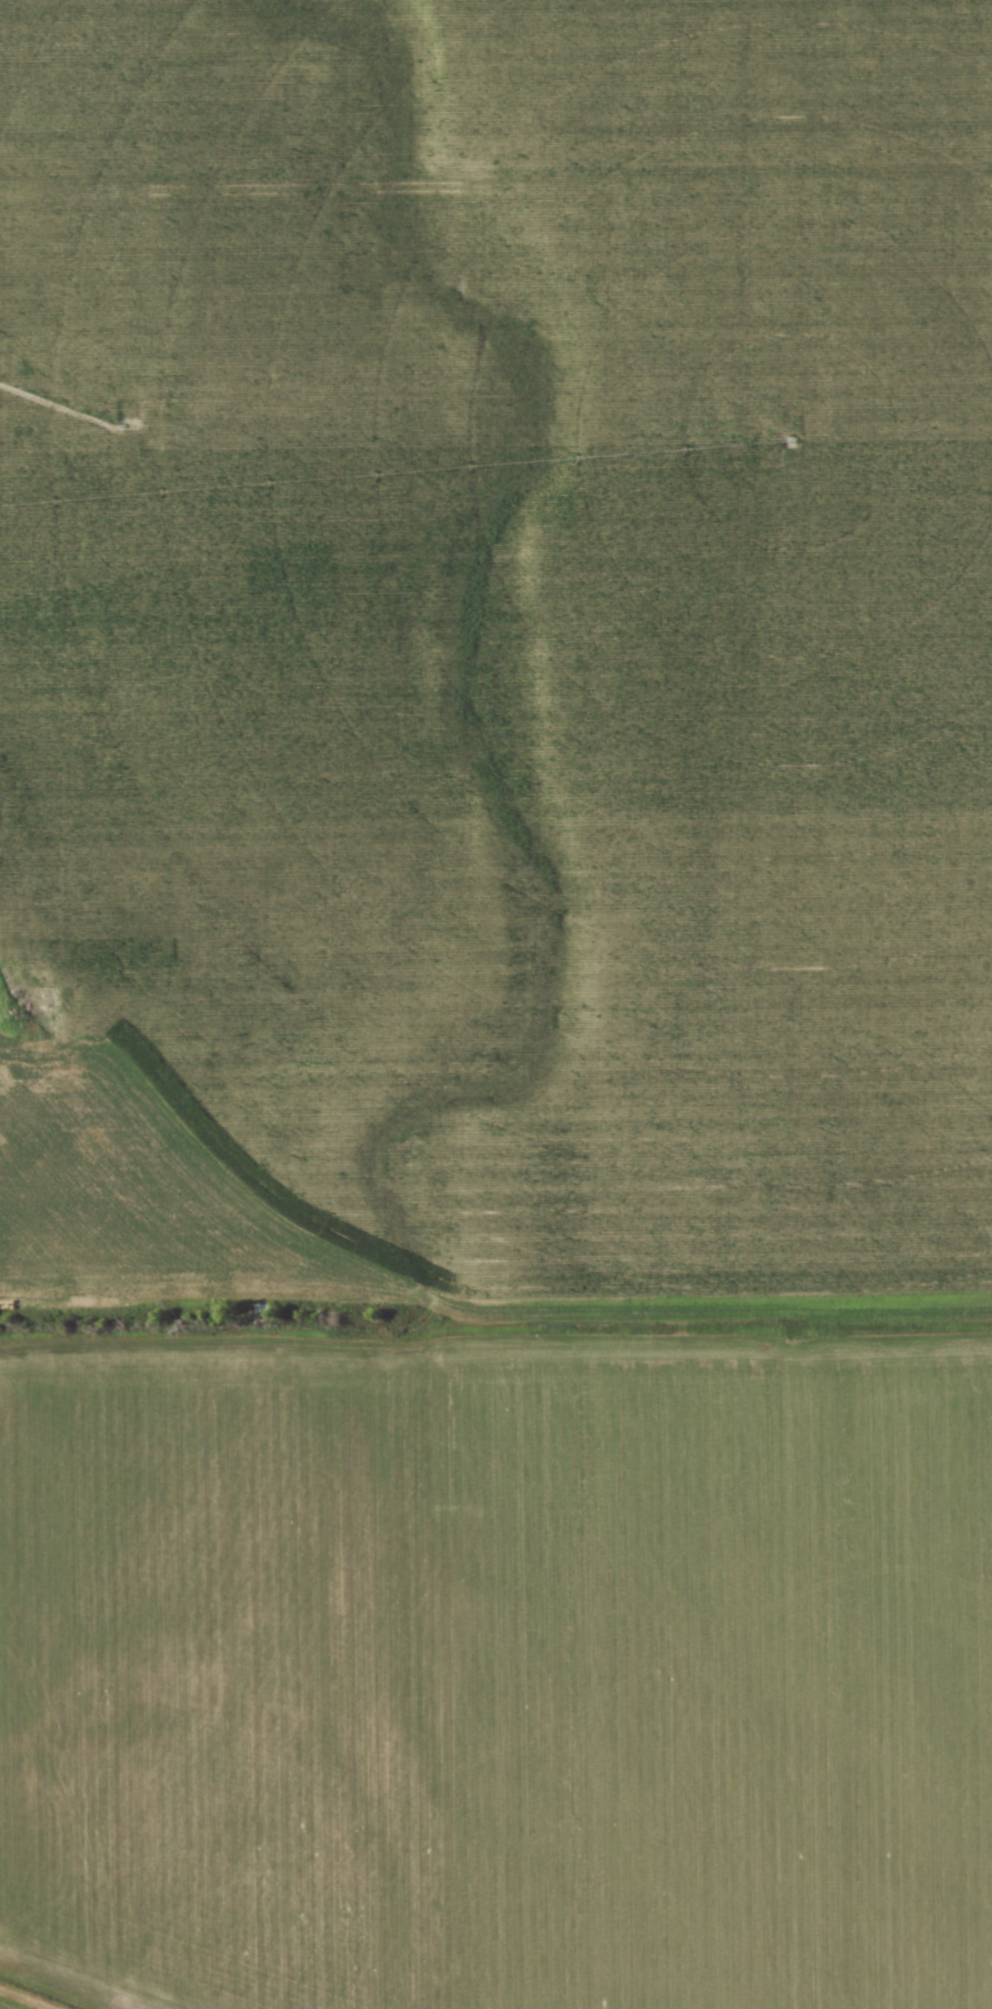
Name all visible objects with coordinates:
crop: (498, 1000)
building: (260, 1308)

